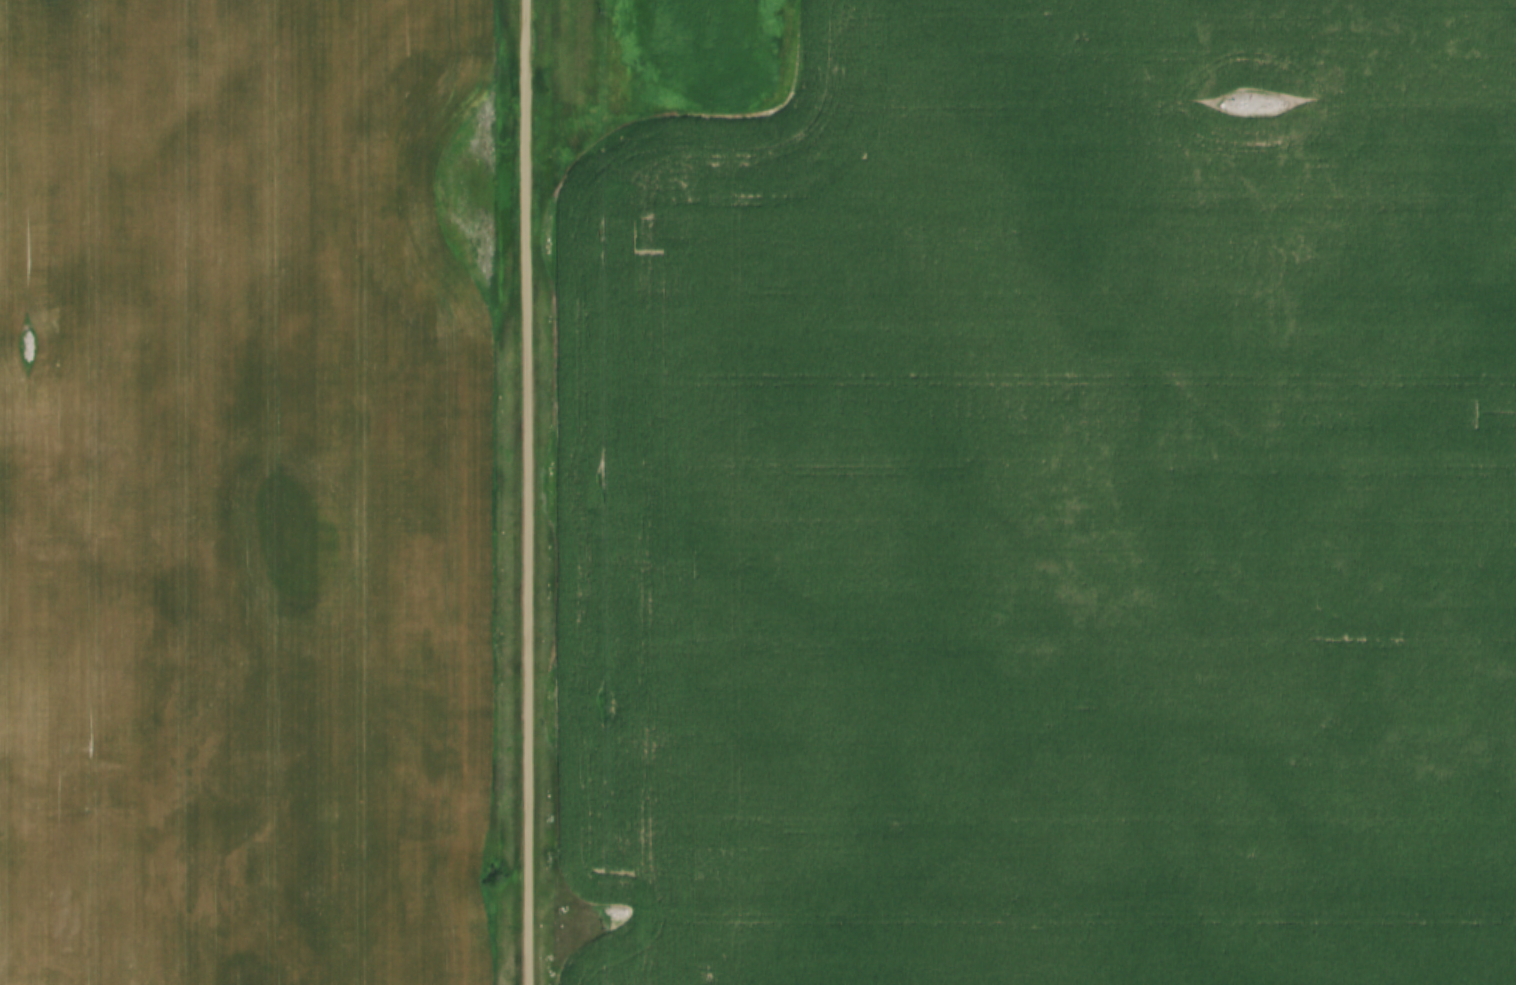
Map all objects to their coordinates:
road: (529, 492)

